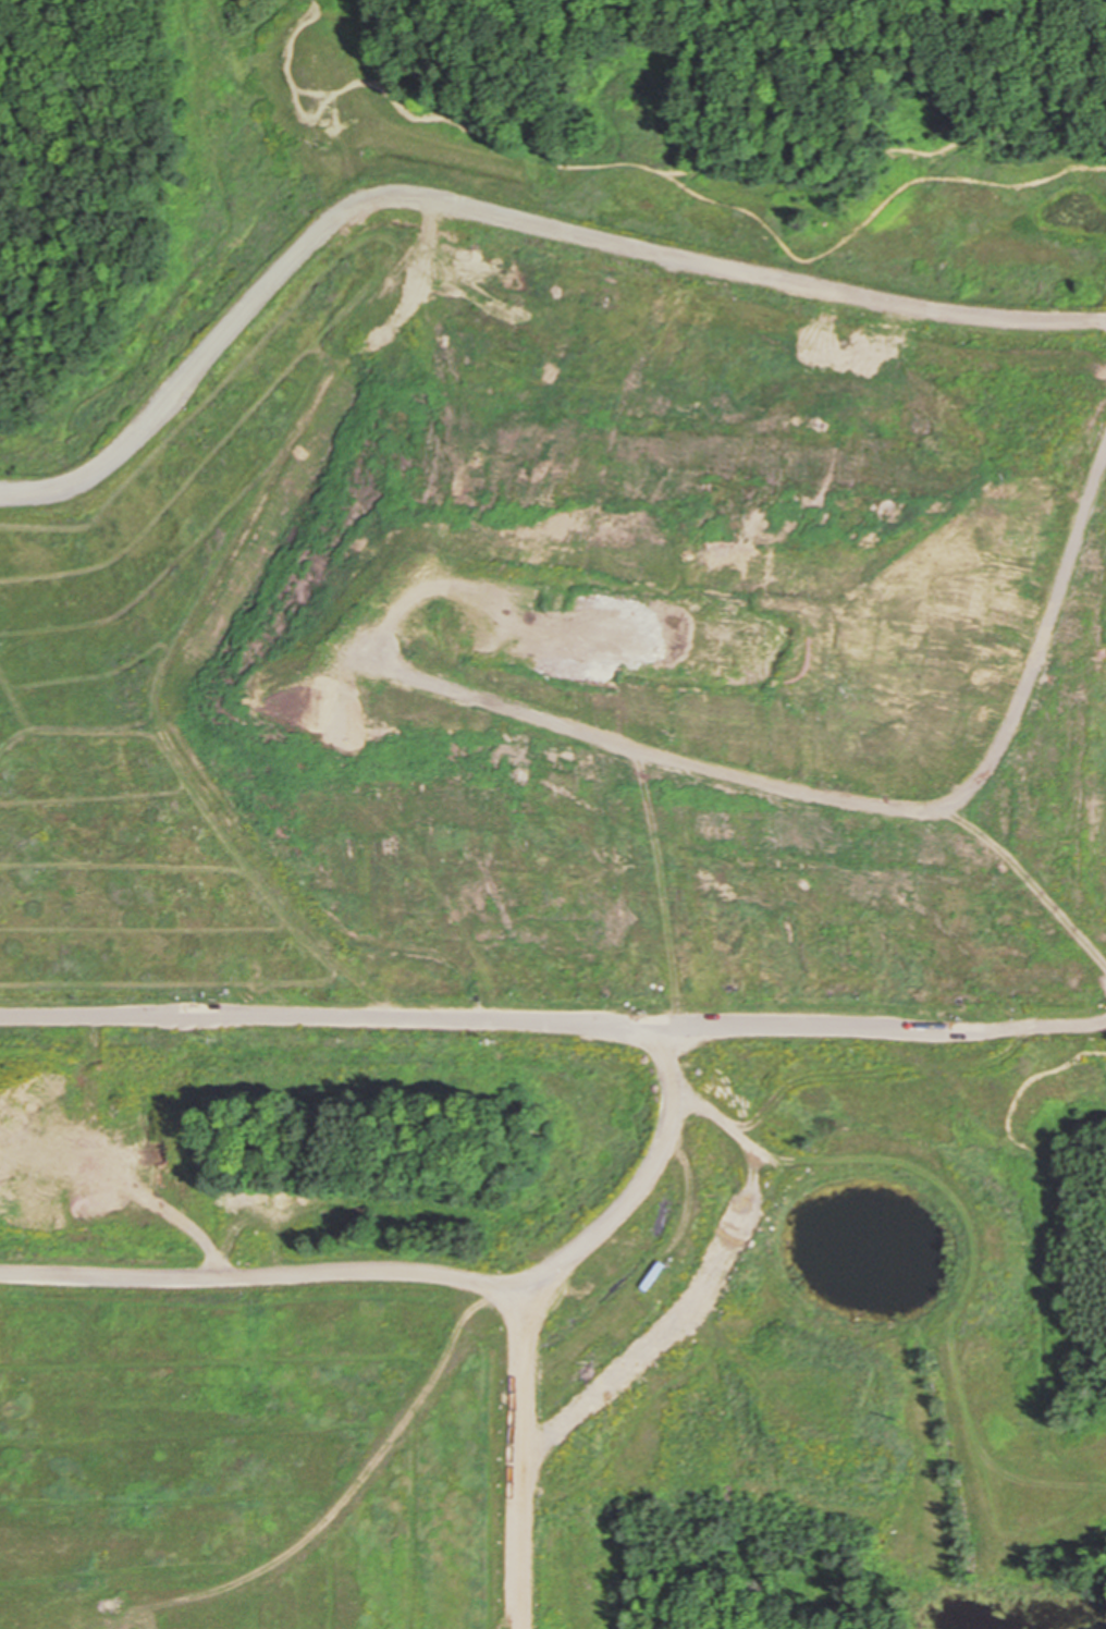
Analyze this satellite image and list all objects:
road: (788, 48)
road: (496, 213)
landfill: (568, 834)
road: (553, 1020)
road: (425, 1271)
road: (710, 1297)
road: (527, 1450)

